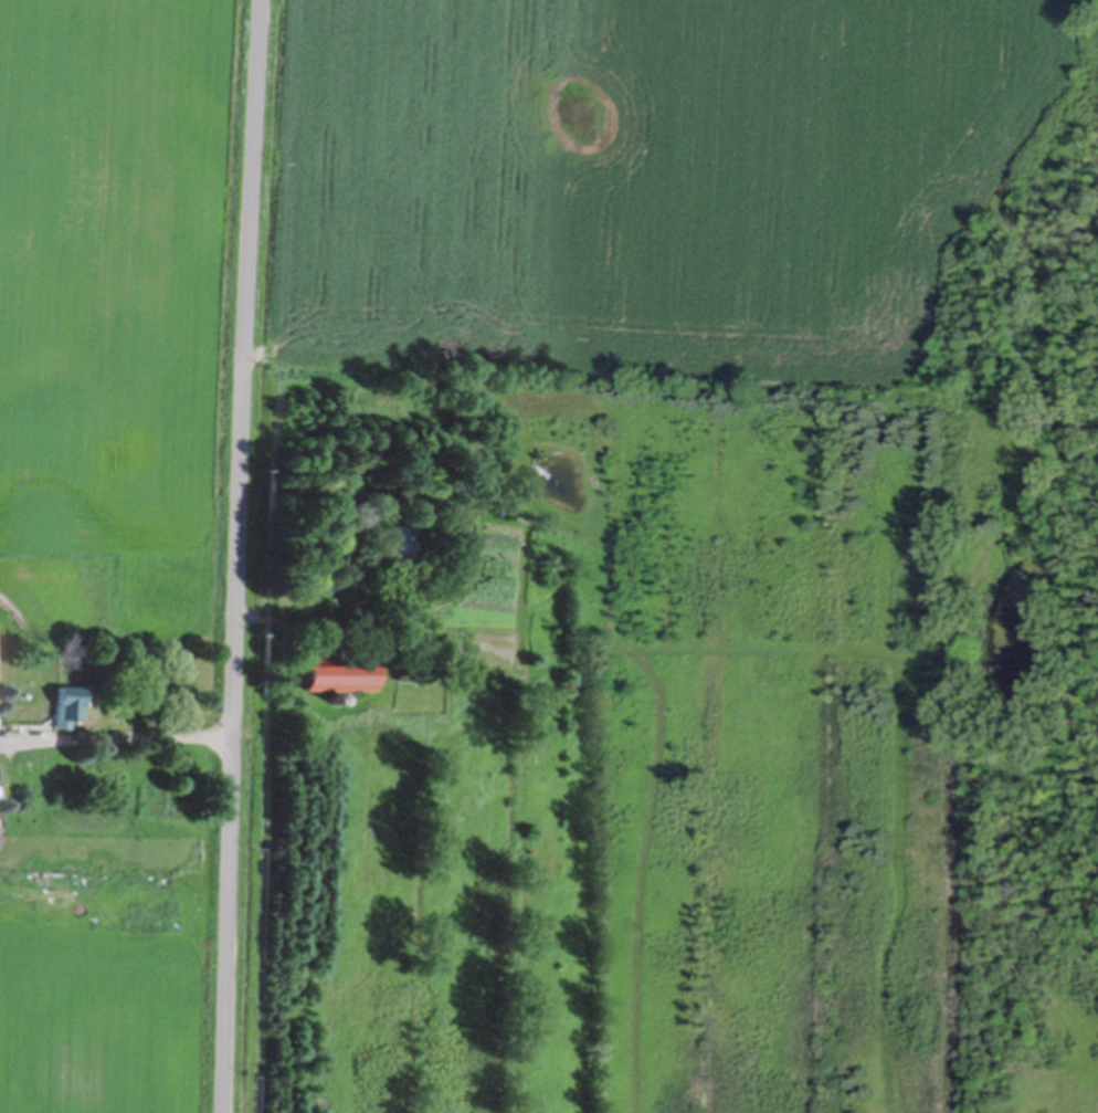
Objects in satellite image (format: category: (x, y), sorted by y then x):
building: (402, 542)
road: (237, 556)
road: (296, 619)
building: (332, 672)
building: (64, 702)
road: (115, 733)

